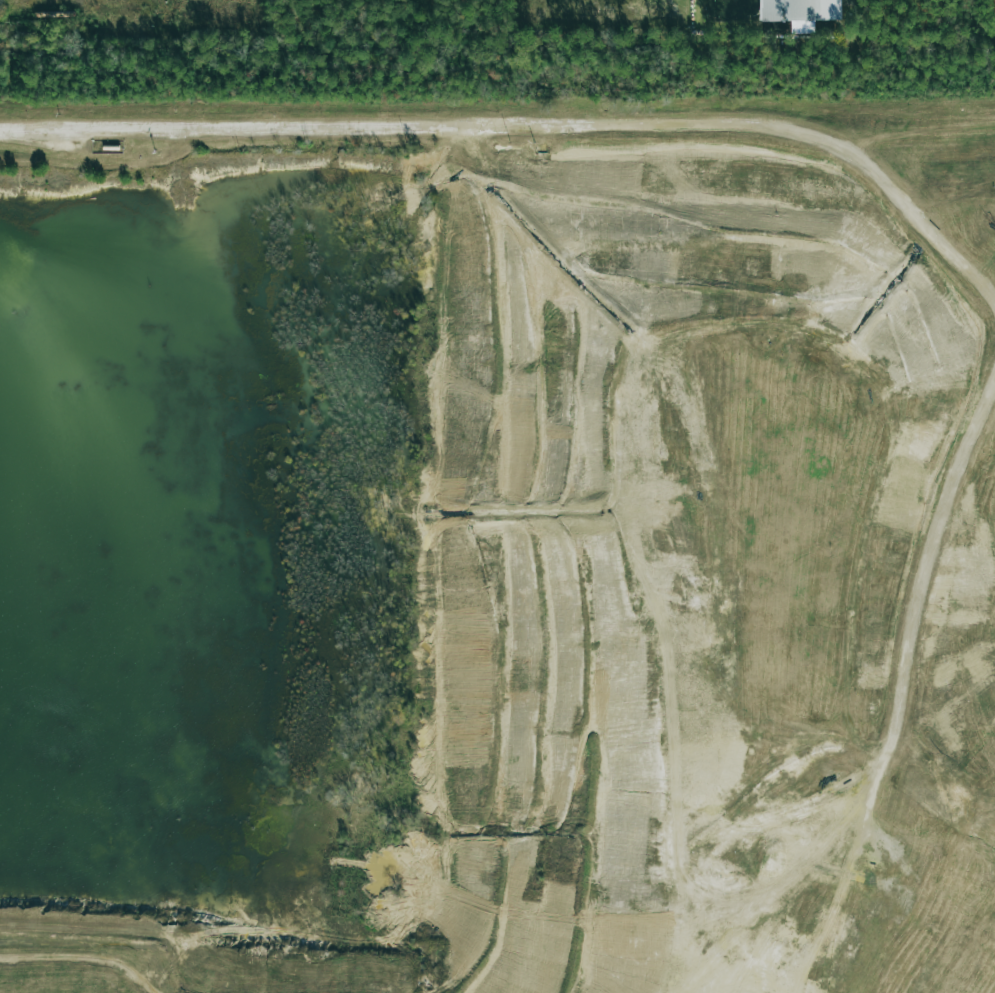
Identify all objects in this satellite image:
building: (800, 12)
road: (497, 123)
landfill: (497, 545)

